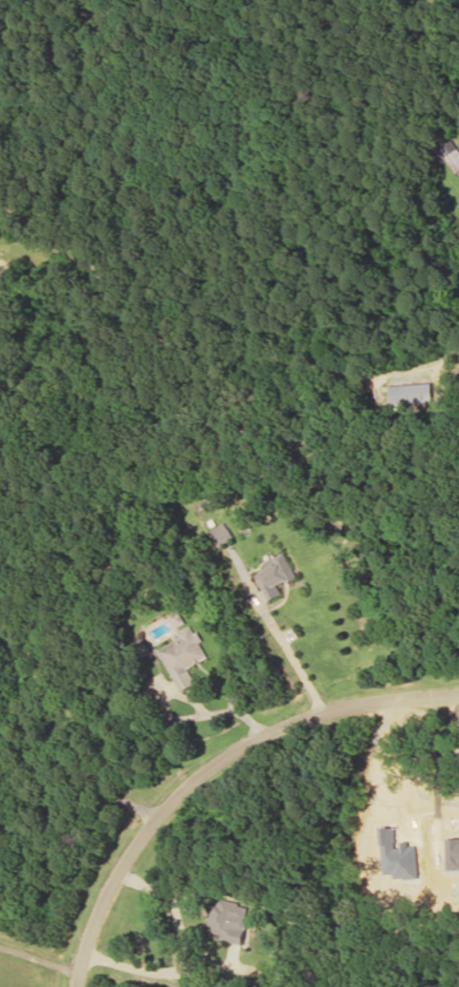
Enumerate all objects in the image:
building: (410, 392)
building: (221, 532)
building: (275, 575)
building: (138, 648)
building: (183, 655)
road: (208, 765)
building: (228, 919)

